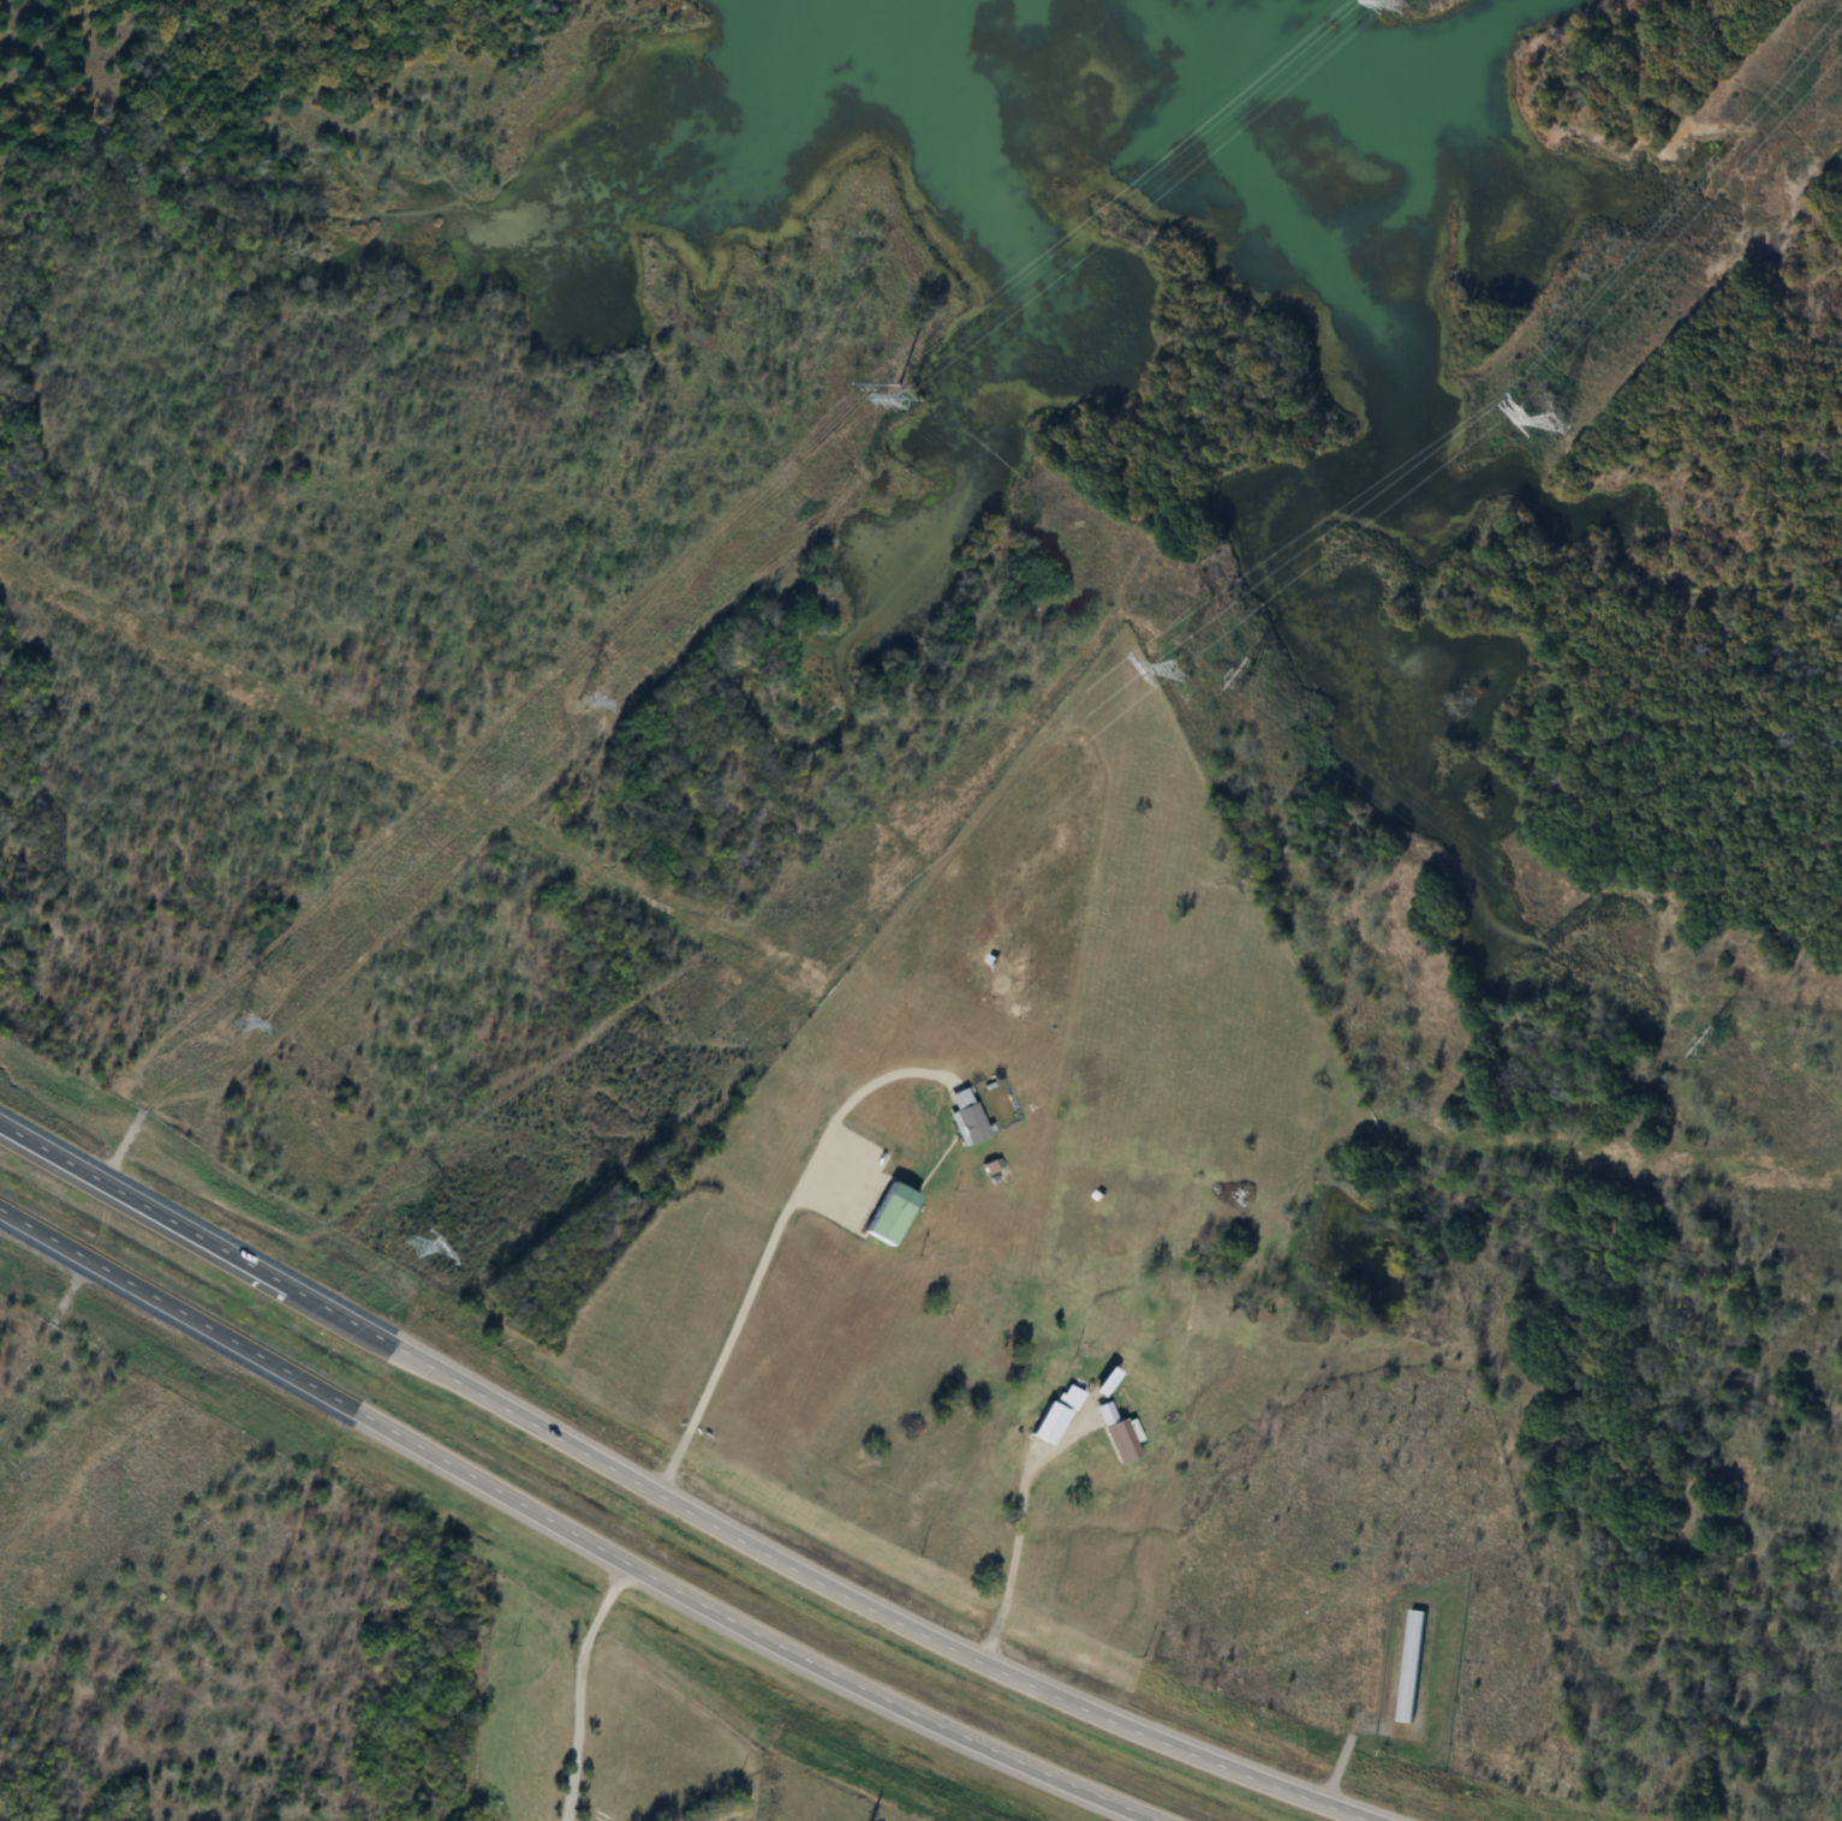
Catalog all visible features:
power tower: (1390, 5)
power tower: (898, 396)
power tower: (1550, 422)
power tower: (1170, 670)
power tower: (1238, 674)
power tower: (571, 699)
power tower: (217, 1023)
power tower: (1705, 1040)
building: (966, 1123)
road: (145, 1196)
building: (886, 1213)
road: (771, 1243)
power tower: (405, 1247)
road: (143, 1283)
building: (1069, 1395)
building: (1116, 1440)
road: (1020, 1530)
road: (823, 1576)
road: (714, 1604)
building: (1407, 1666)
road: (583, 1684)

